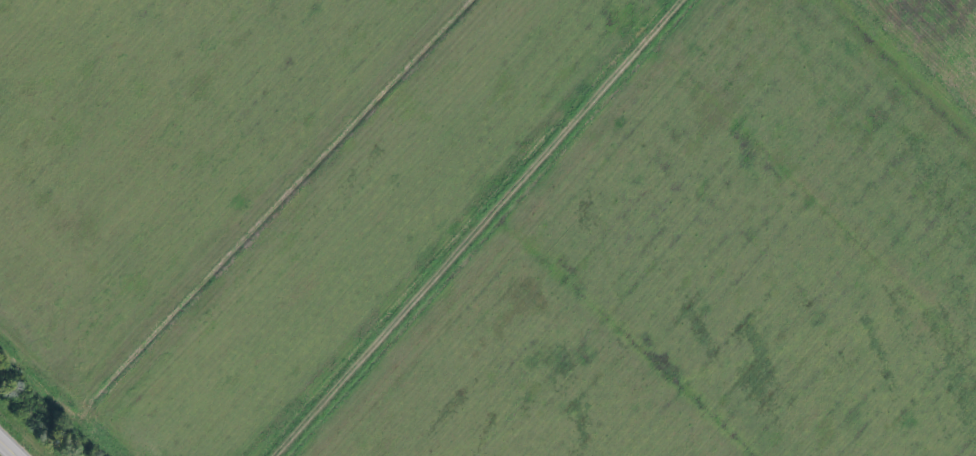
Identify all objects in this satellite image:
road: (918, 55)
road: (477, 228)
road: (9, 447)

